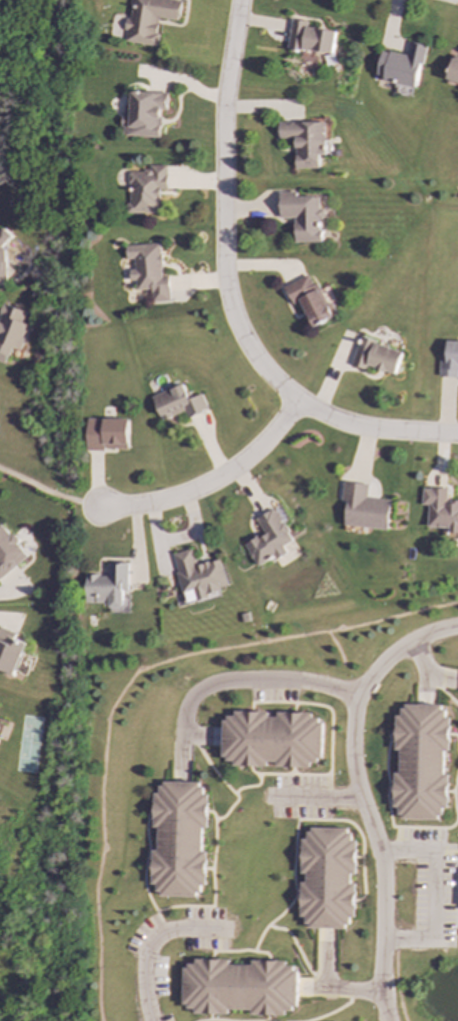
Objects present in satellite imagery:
building: (149, 19)
building: (309, 38)
building: (400, 66)
building: (453, 70)
building: (142, 114)
building: (303, 142)
building: (143, 189)
building: (301, 216)
building: (3, 253)
building: (147, 270)
road: (227, 296)
building: (309, 301)
building: (12, 330)
building: (375, 356)
building: (448, 359)
building: (177, 403)
building: (107, 434)
road: (214, 482)
road: (49, 493)
building: (364, 508)
building: (440, 510)
building: (268, 539)
building: (9, 551)
building: (198, 576)
building: (109, 587)
road: (12, 592)
building: (10, 651)
road: (426, 673)
road: (300, 679)
building: (271, 739)
building: (420, 762)
road: (319, 796)
building: (178, 839)
road: (377, 852)
building: (327, 878)
road: (435, 892)
road: (149, 942)
road: (327, 986)
building: (239, 987)

